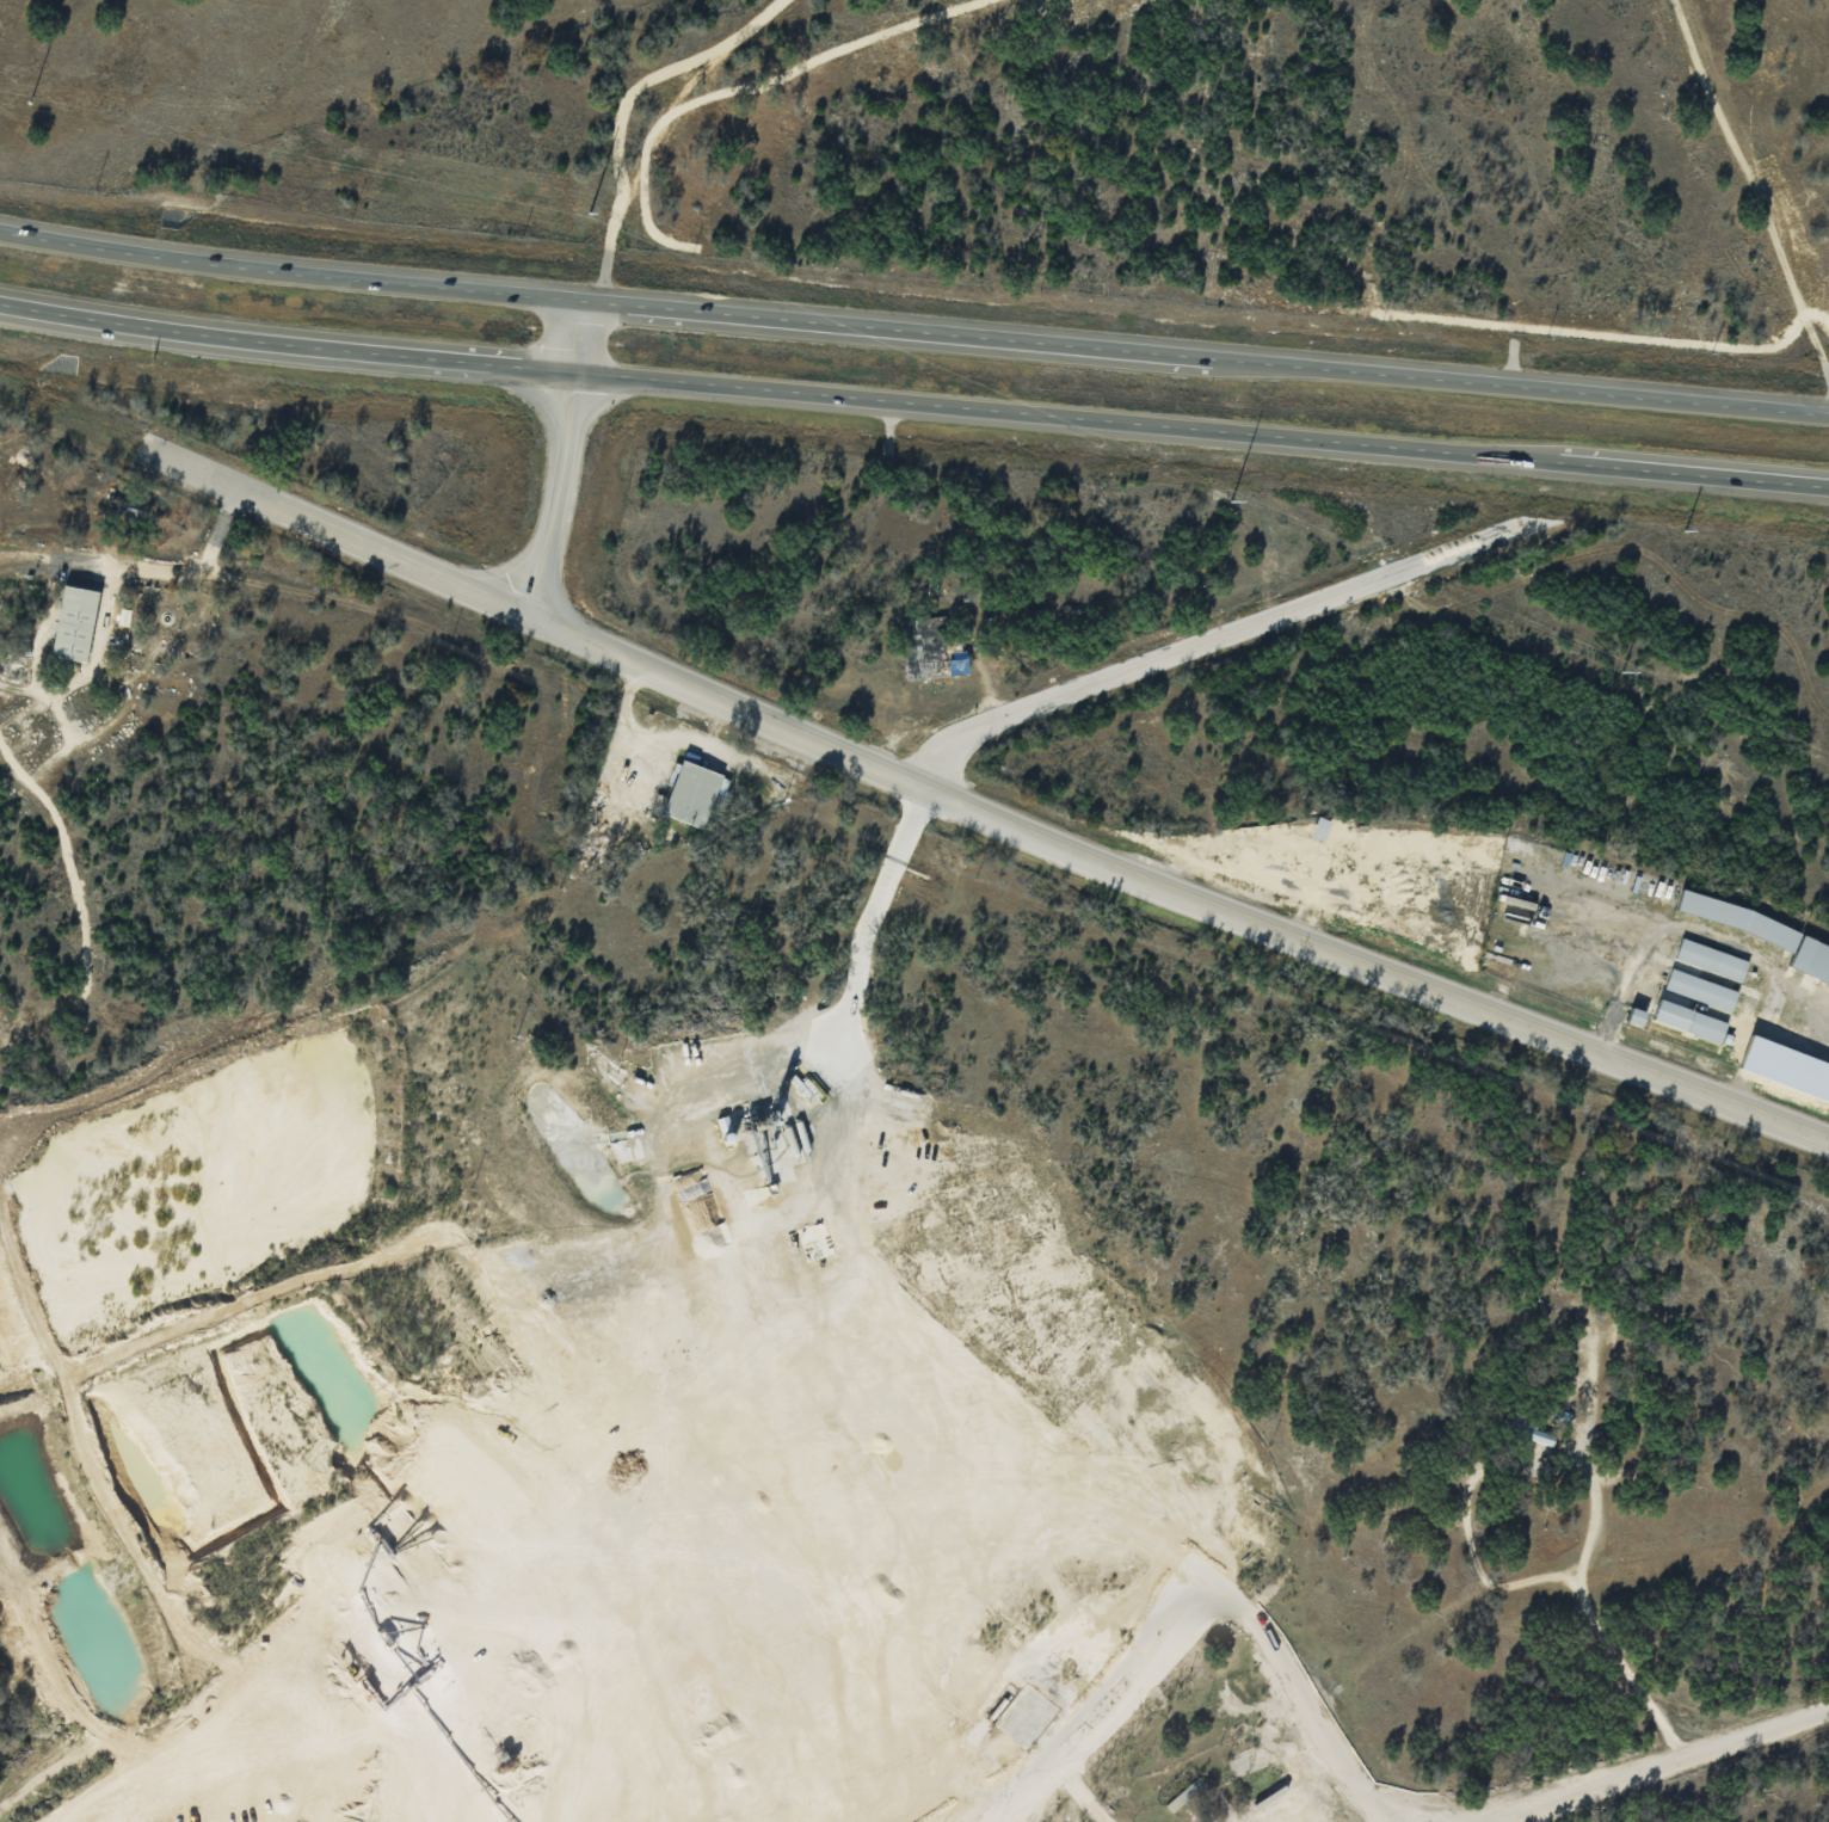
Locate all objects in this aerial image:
power tower: (29, 100)
road: (623, 119)
road: (1756, 202)
power tower: (587, 213)
road: (913, 330)
road: (913, 404)
road: (565, 458)
power tower: (1227, 500)
road: (338, 524)
road: (193, 567)
building: (74, 622)
road: (1208, 644)
power tower: (1619, 669)
building: (692, 794)
building: (1319, 827)
road: (1168, 892)
building: (1765, 935)
road: (1726, 938)
building: (1710, 959)
building: (1699, 989)
building: (1634, 1016)
building: (1688, 1020)
building: (1529, 1432)
road: (1587, 1613)
road: (1311, 1710)
road: (1114, 1711)
road: (1657, 1765)

